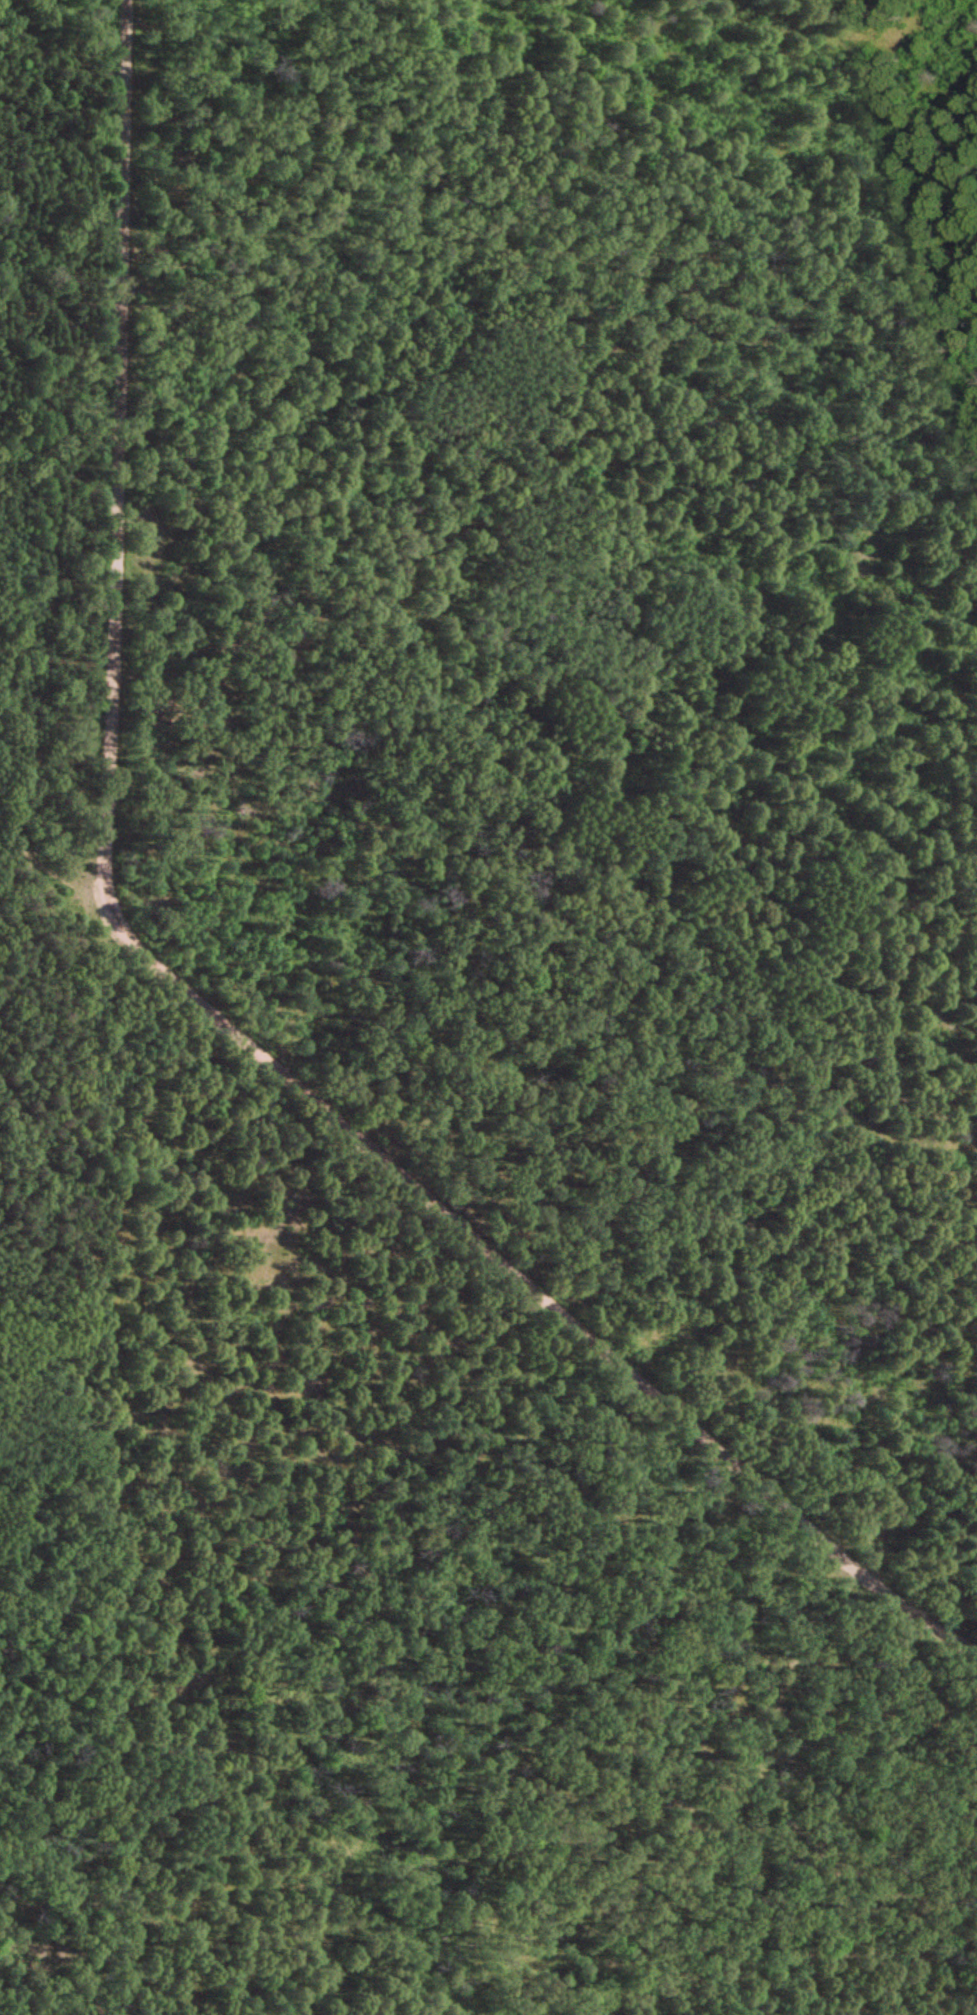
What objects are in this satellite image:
road: (122, 452)
road: (57, 864)
road: (131, 930)
road: (556, 1322)

